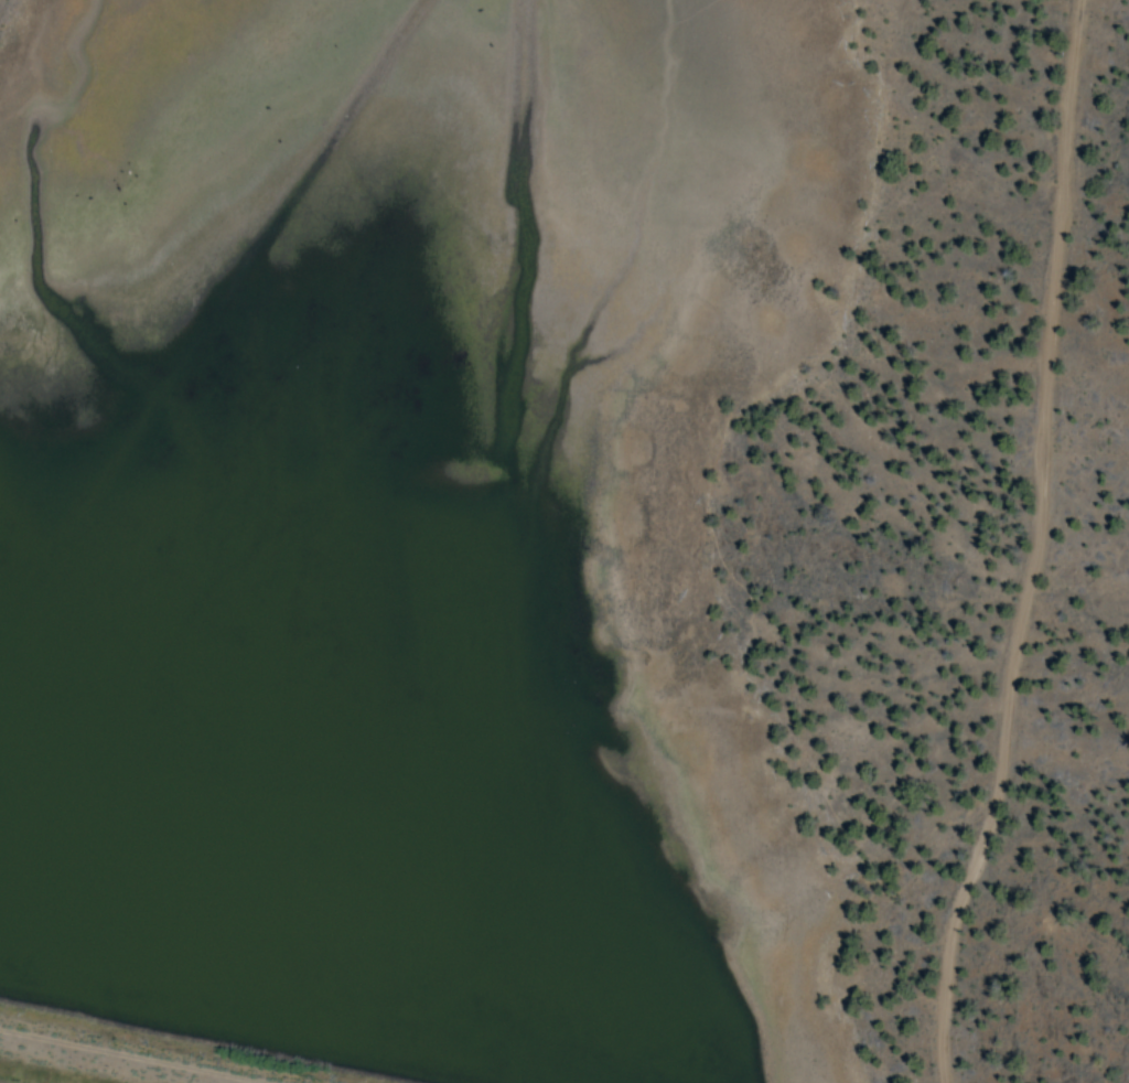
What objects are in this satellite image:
road: (1039, 545)
dam: (163, 1048)
road: (129, 1055)

